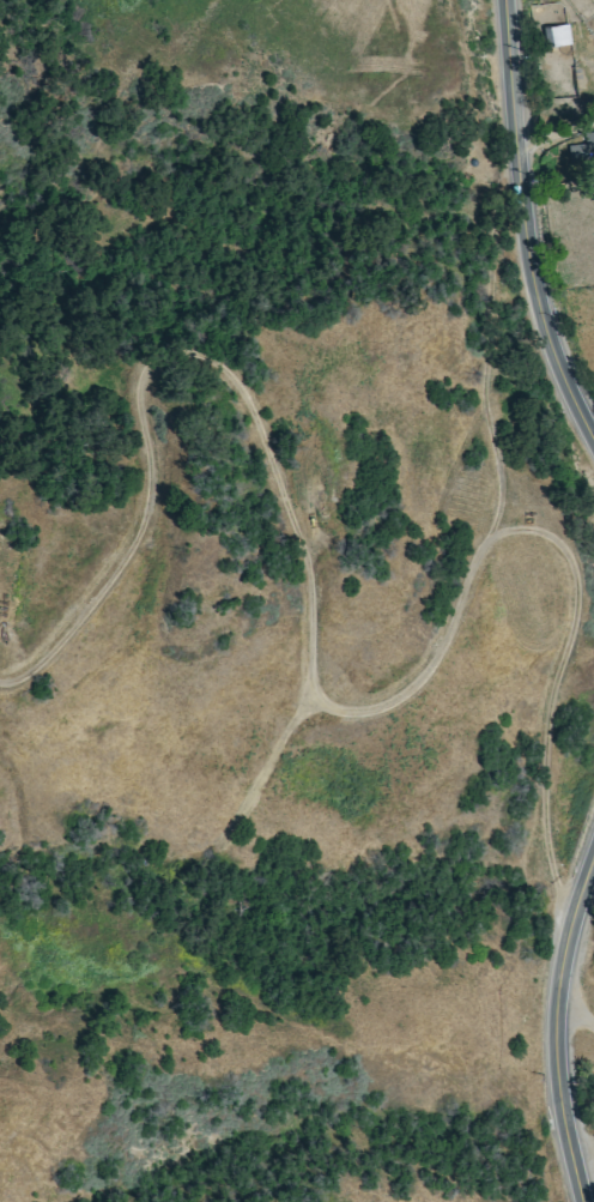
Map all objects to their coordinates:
building: (554, 34)
road: (558, 135)
building: (581, 146)
road: (529, 221)
road: (302, 656)
road: (580, 1015)
road: (564, 1038)

